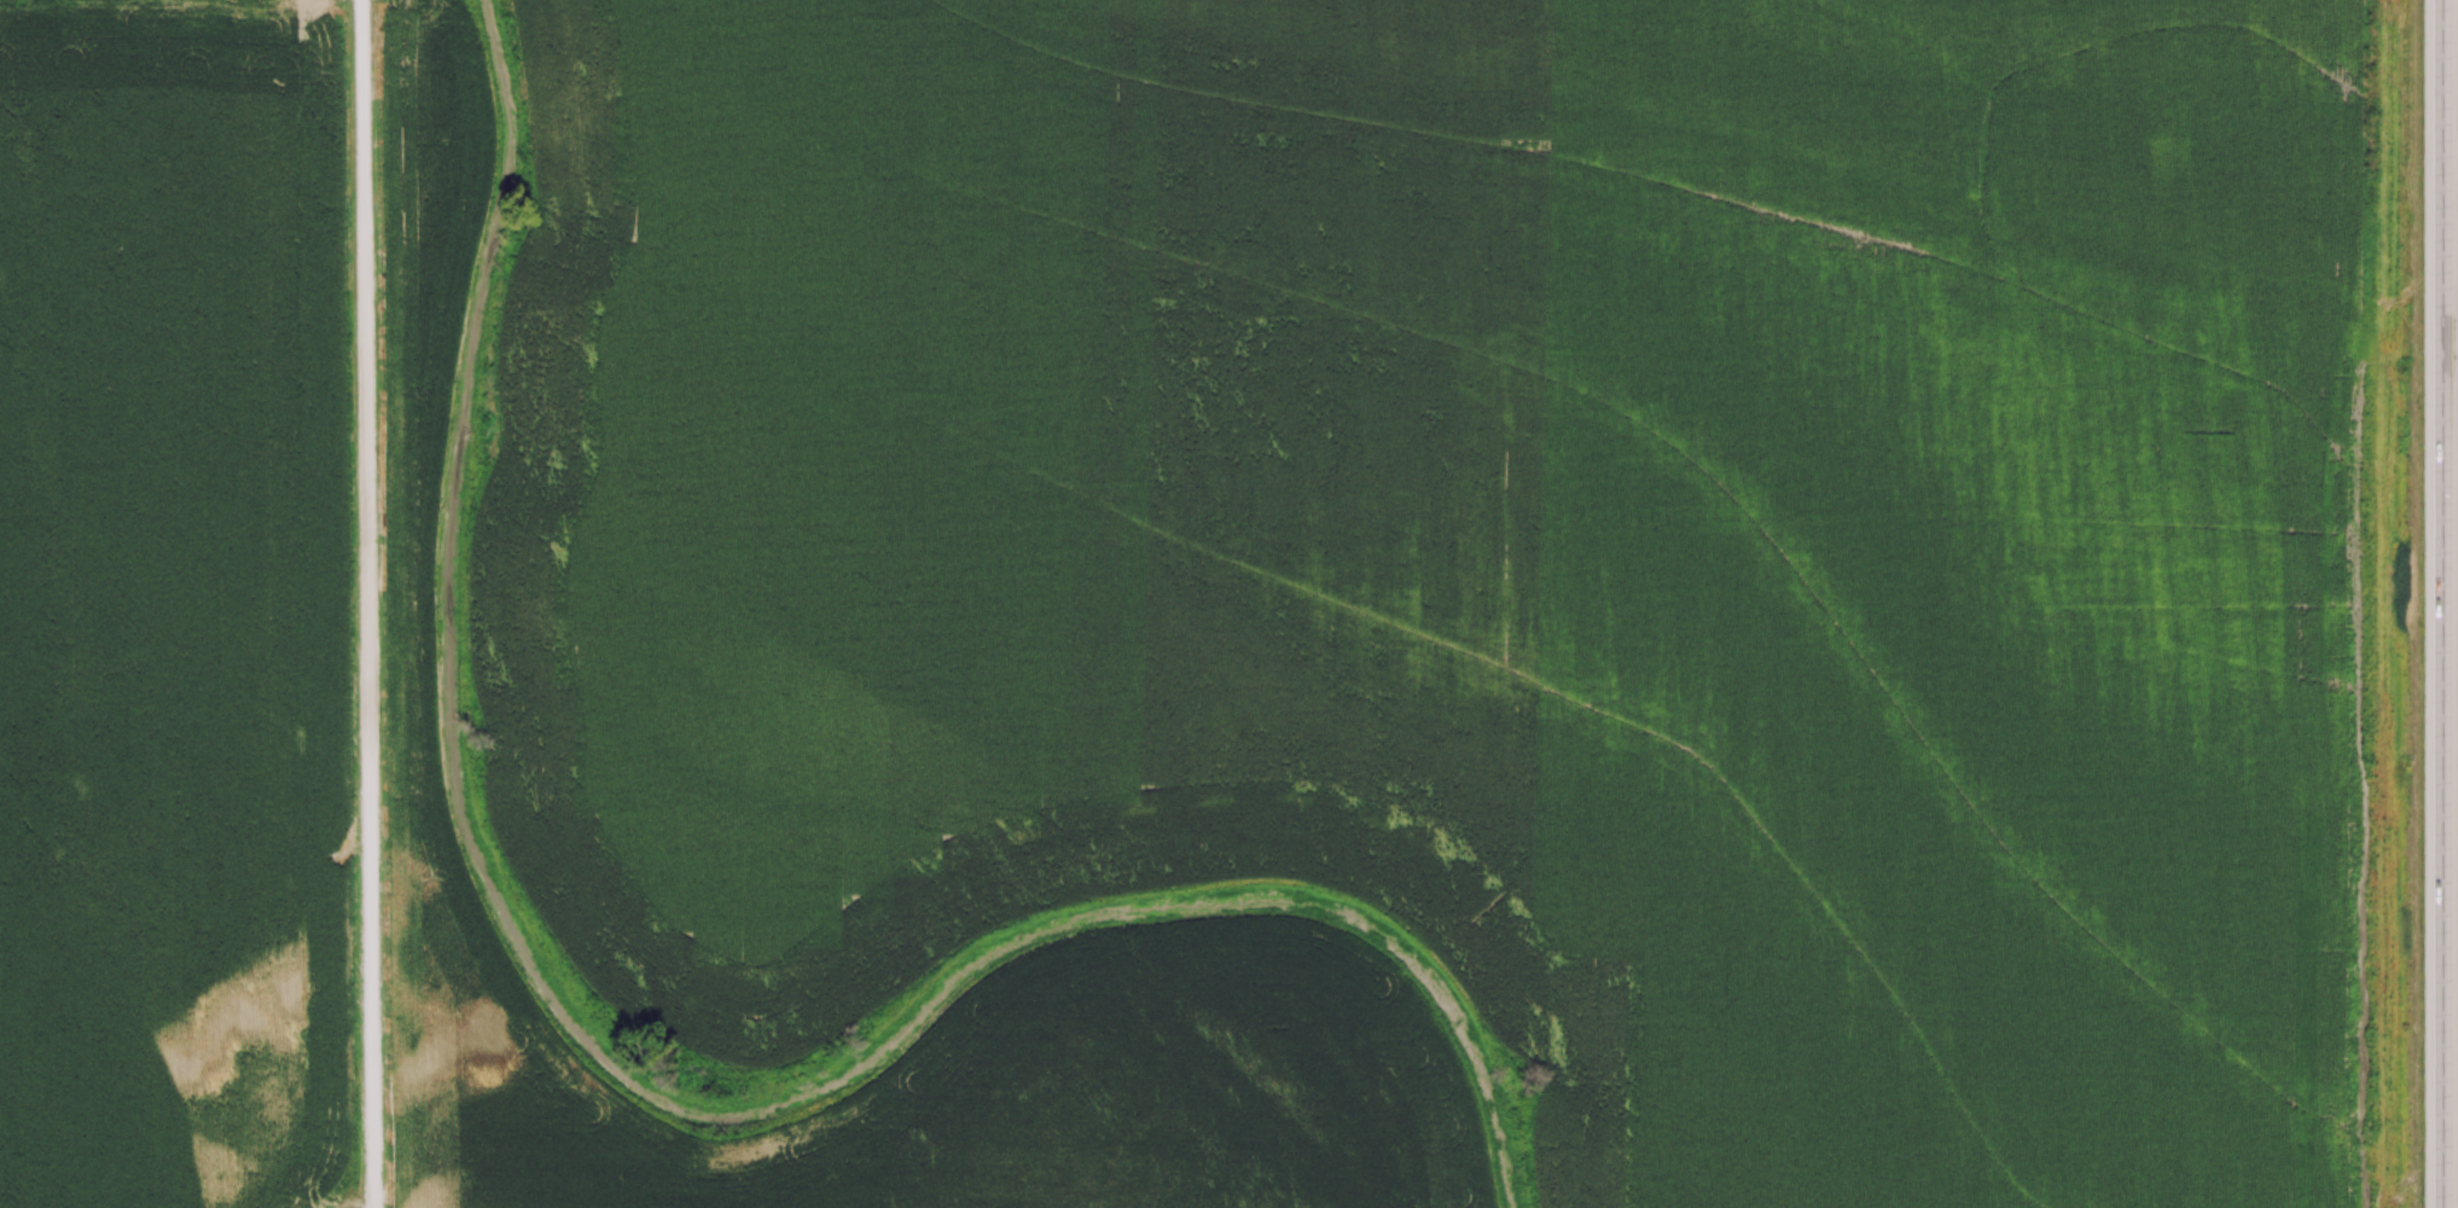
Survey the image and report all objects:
road: (368, 604)
road: (2444, 604)
crop: (1407, 608)

